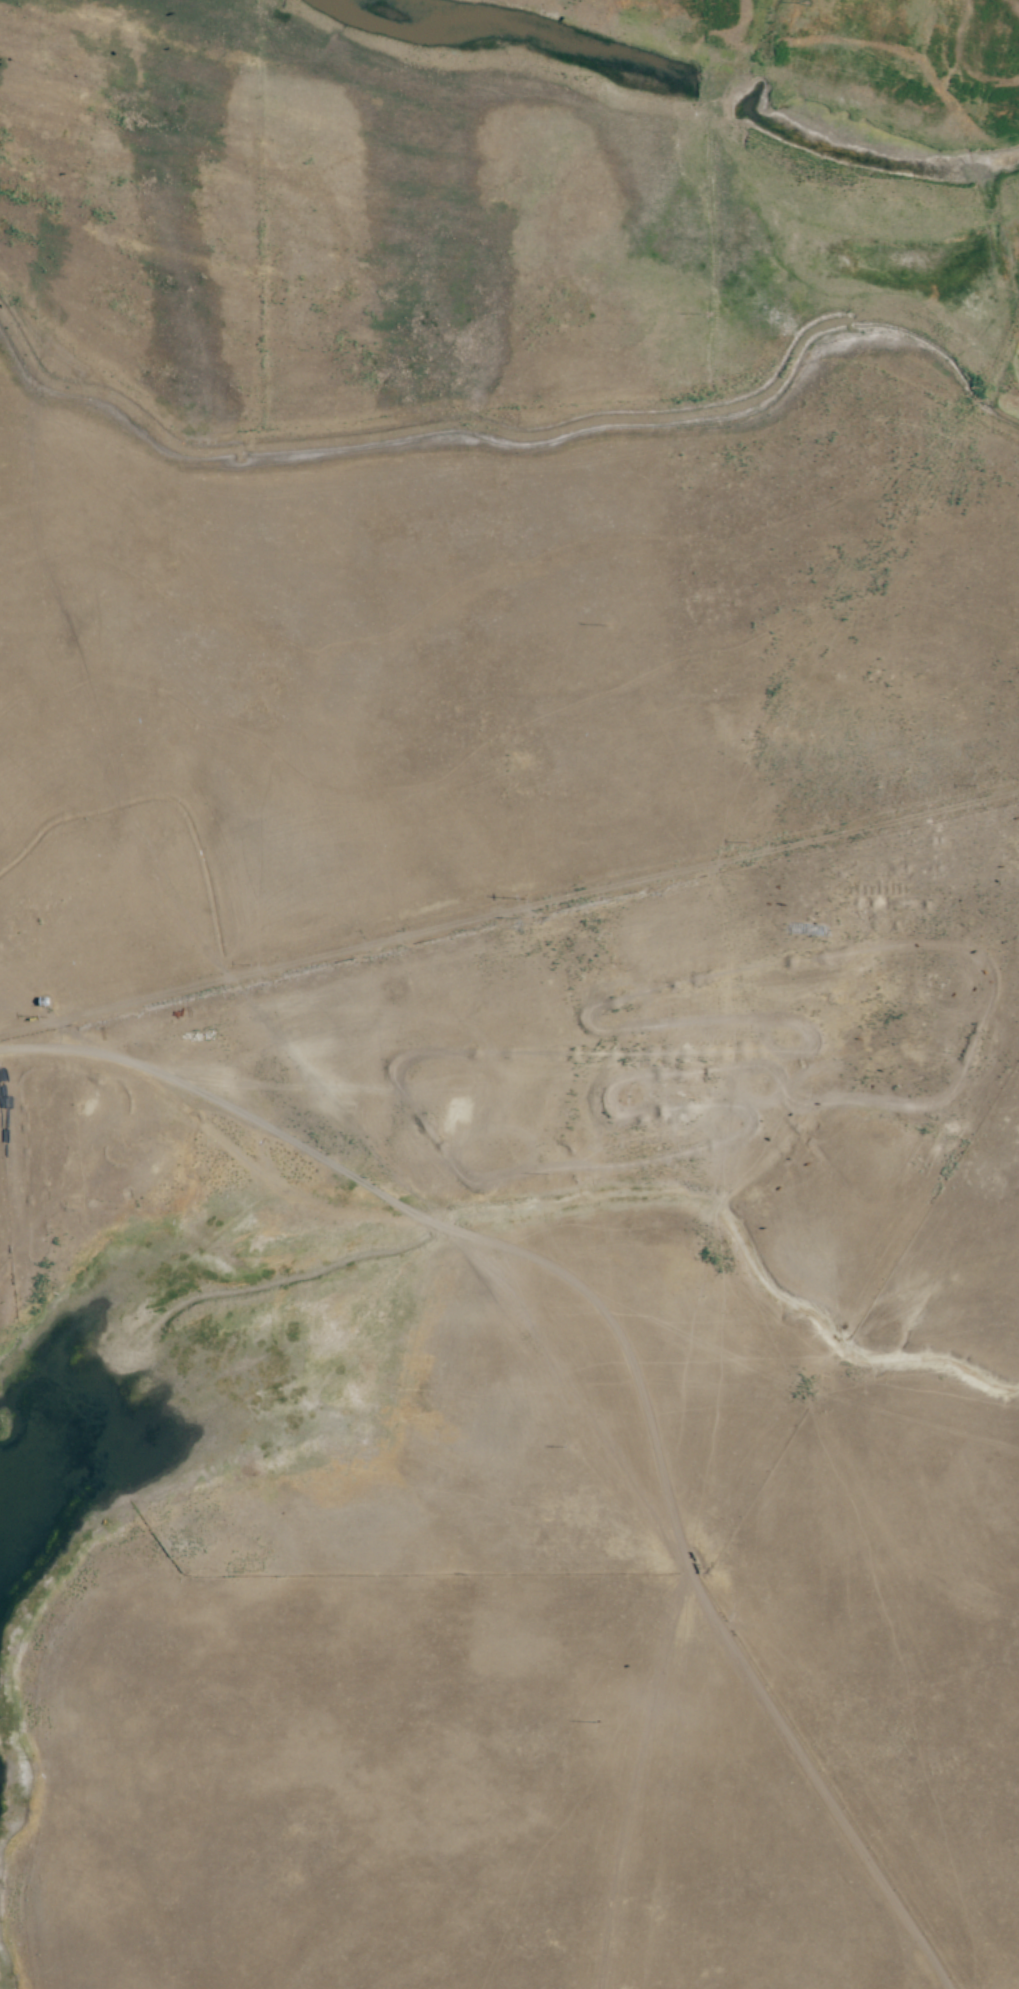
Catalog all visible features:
road: (509, 916)
road: (668, 1481)

